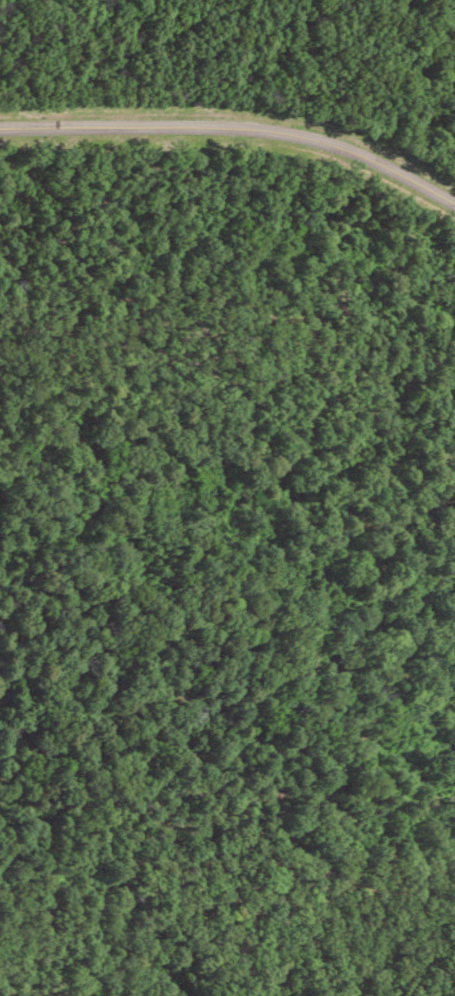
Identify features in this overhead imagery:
road: (232, 121)

